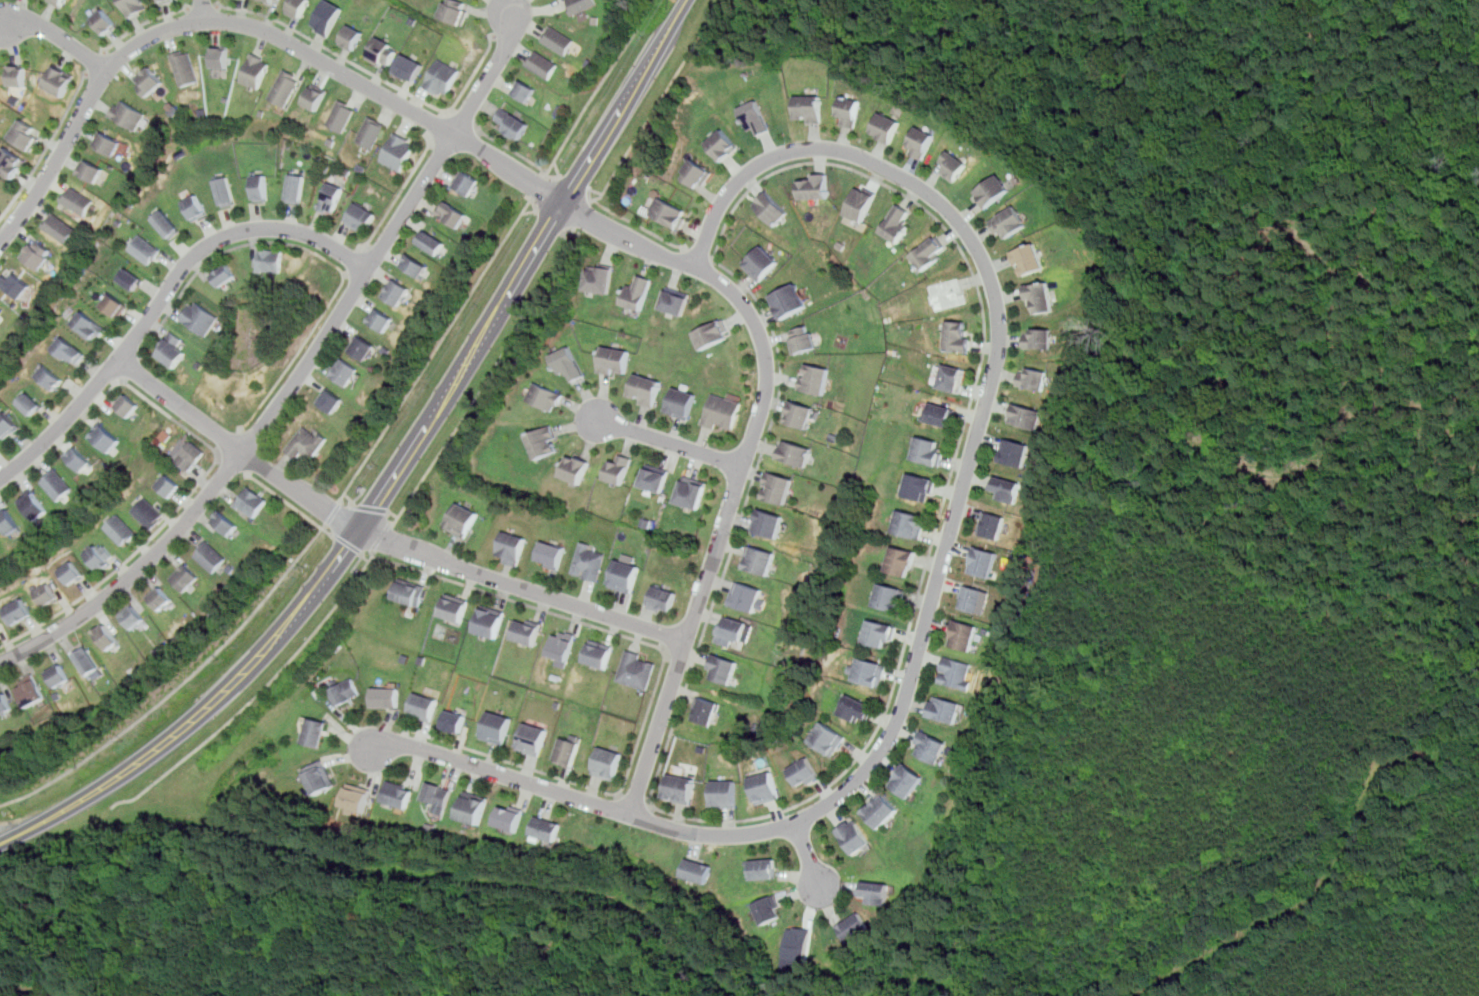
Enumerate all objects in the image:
building: (166, 1)
building: (273, 1)
building: (61, 2)
building: (582, 5)
building: (135, 6)
building: (299, 8)
road: (205, 9)
road: (206, 11)
building: (455, 11)
road: (680, 12)
building: (330, 16)
building: (107, 21)
road: (146, 23)
building: (354, 36)
road: (501, 36)
road: (59, 38)
building: (558, 39)
building: (385, 52)
road: (106, 53)
building: (221, 57)
building: (541, 64)
road: (99, 66)
building: (184, 67)
building: (411, 67)
building: (256, 70)
building: (17, 75)
road: (377, 76)
building: (442, 78)
building: (58, 80)
building: (148, 81)
building: (286, 87)
building: (523, 90)
building: (316, 95)
building: (811, 108)
building: (850, 110)
road: (415, 112)
building: (126, 113)
road: (618, 113)
building: (341, 115)
building: (756, 117)
road: (463, 121)
building: (511, 123)
road: (441, 126)
building: (887, 127)
building: (371, 131)
building: (23, 135)
road: (570, 135)
building: (921, 141)
building: (106, 142)
building: (722, 144)
road: (629, 145)
road: (47, 147)
building: (398, 151)
building: (10, 162)
building: (955, 164)
building: (90, 170)
building: (696, 173)
building: (467, 183)
building: (816, 186)
building: (262, 187)
building: (297, 187)
building: (993, 190)
building: (228, 191)
road: (903, 191)
road: (399, 194)
building: (331, 197)
building: (76, 200)
building: (862, 203)
building: (198, 207)
building: (773, 208)
building: (452, 213)
building: (669, 213)
building: (361, 217)
building: (1009, 222)
building: (169, 223)
building: (898, 224)
building: (57, 226)
road: (572, 227)
building: (433, 241)
building: (146, 248)
road: (311, 250)
building: (930, 252)
building: (37, 253)
road: (701, 258)
building: (1028, 259)
building: (270, 260)
building: (761, 261)
road: (356, 263)
building: (416, 265)
building: (227, 275)
building: (131, 278)
building: (599, 278)
building: (16, 284)
road: (513, 286)
building: (399, 291)
building: (637, 292)
building: (947, 293)
building: (1040, 296)
road: (161, 297)
building: (674, 300)
building: (789, 300)
building: (113, 304)
building: (1, 311)
building: (201, 318)
building: (383, 319)
building: (88, 325)
building: (712, 333)
building: (958, 336)
building: (1038, 337)
building: (802, 338)
building: (365, 347)
building: (173, 349)
building: (69, 350)
road: (438, 350)
building: (614, 360)
building: (568, 362)
road: (127, 367)
building: (346, 371)
road: (300, 374)
building: (50, 376)
building: (815, 377)
building: (953, 377)
building: (1033, 377)
road: (486, 380)
building: (645, 388)
building: (546, 396)
building: (333, 400)
building: (681, 402)
building: (31, 403)
building: (126, 404)
building: (722, 411)
building: (942, 413)
building: (801, 414)
building: (1026, 415)
building: (8, 424)
building: (105, 436)
building: (545, 441)
road: (671, 442)
building: (308, 443)
road: (412, 449)
building: (928, 450)
building: (796, 452)
building: (1015, 452)
road: (220, 454)
building: (191, 455)
road: (218, 455)
building: (80, 458)
building: (621, 467)
building: (577, 468)
building: (656, 479)
building: (58, 483)
building: (169, 484)
building: (920, 486)
building: (777, 487)
building: (1007, 488)
building: (693, 491)
road: (347, 495)
road: (286, 499)
building: (253, 501)
building: (35, 503)
road: (376, 509)
building: (148, 511)
building: (462, 518)
building: (9, 520)
building: (226, 522)
building: (768, 522)
building: (910, 523)
building: (993, 524)
building: (121, 529)
road: (382, 538)
road: (348, 543)
building: (512, 547)
building: (552, 554)
building: (101, 555)
building: (211, 556)
building: (757, 559)
building: (591, 560)
building: (902, 560)
building: (984, 561)
building: (72, 572)
building: (625, 575)
building: (186, 577)
road: (936, 583)
building: (410, 591)
building: (47, 593)
building: (748, 596)
building: (161, 597)
building: (890, 597)
building: (972, 598)
building: (662, 599)
road: (519, 601)
road: (296, 605)
building: (455, 607)
building: (19, 610)
building: (134, 616)
building: (490, 620)
building: (731, 629)
building: (528, 630)
building: (0, 632)
building: (880, 633)
building: (0, 635)
building: (963, 635)
building: (107, 636)
road: (686, 639)
building: (562, 645)
road: (673, 645)
building: (599, 652)
building: (90, 662)
building: (722, 668)
building: (638, 669)
building: (870, 671)
building: (957, 672)
building: (59, 675)
road: (179, 687)
building: (31, 690)
building: (345, 690)
building: (386, 696)
building: (5, 703)
building: (424, 706)
building: (855, 707)
building: (945, 708)
building: (706, 710)
building: (455, 720)
building: (497, 727)
building: (315, 731)
building: (533, 738)
building: (827, 738)
building: (931, 746)
building: (568, 749)
building: (607, 762)
road: (122, 772)
building: (803, 772)
building: (320, 776)
building: (909, 780)
building: (764, 786)
building: (680, 787)
building: (724, 792)
building: (398, 794)
building: (439, 795)
building: (357, 798)
road: (635, 801)
building: (473, 806)
building: (882, 809)
building: (510, 816)
building: (546, 828)
building: (854, 835)
road: (808, 853)
building: (764, 868)
building: (698, 870)
building: (876, 891)
building: (768, 909)
building: (855, 927)
building: (797, 949)

